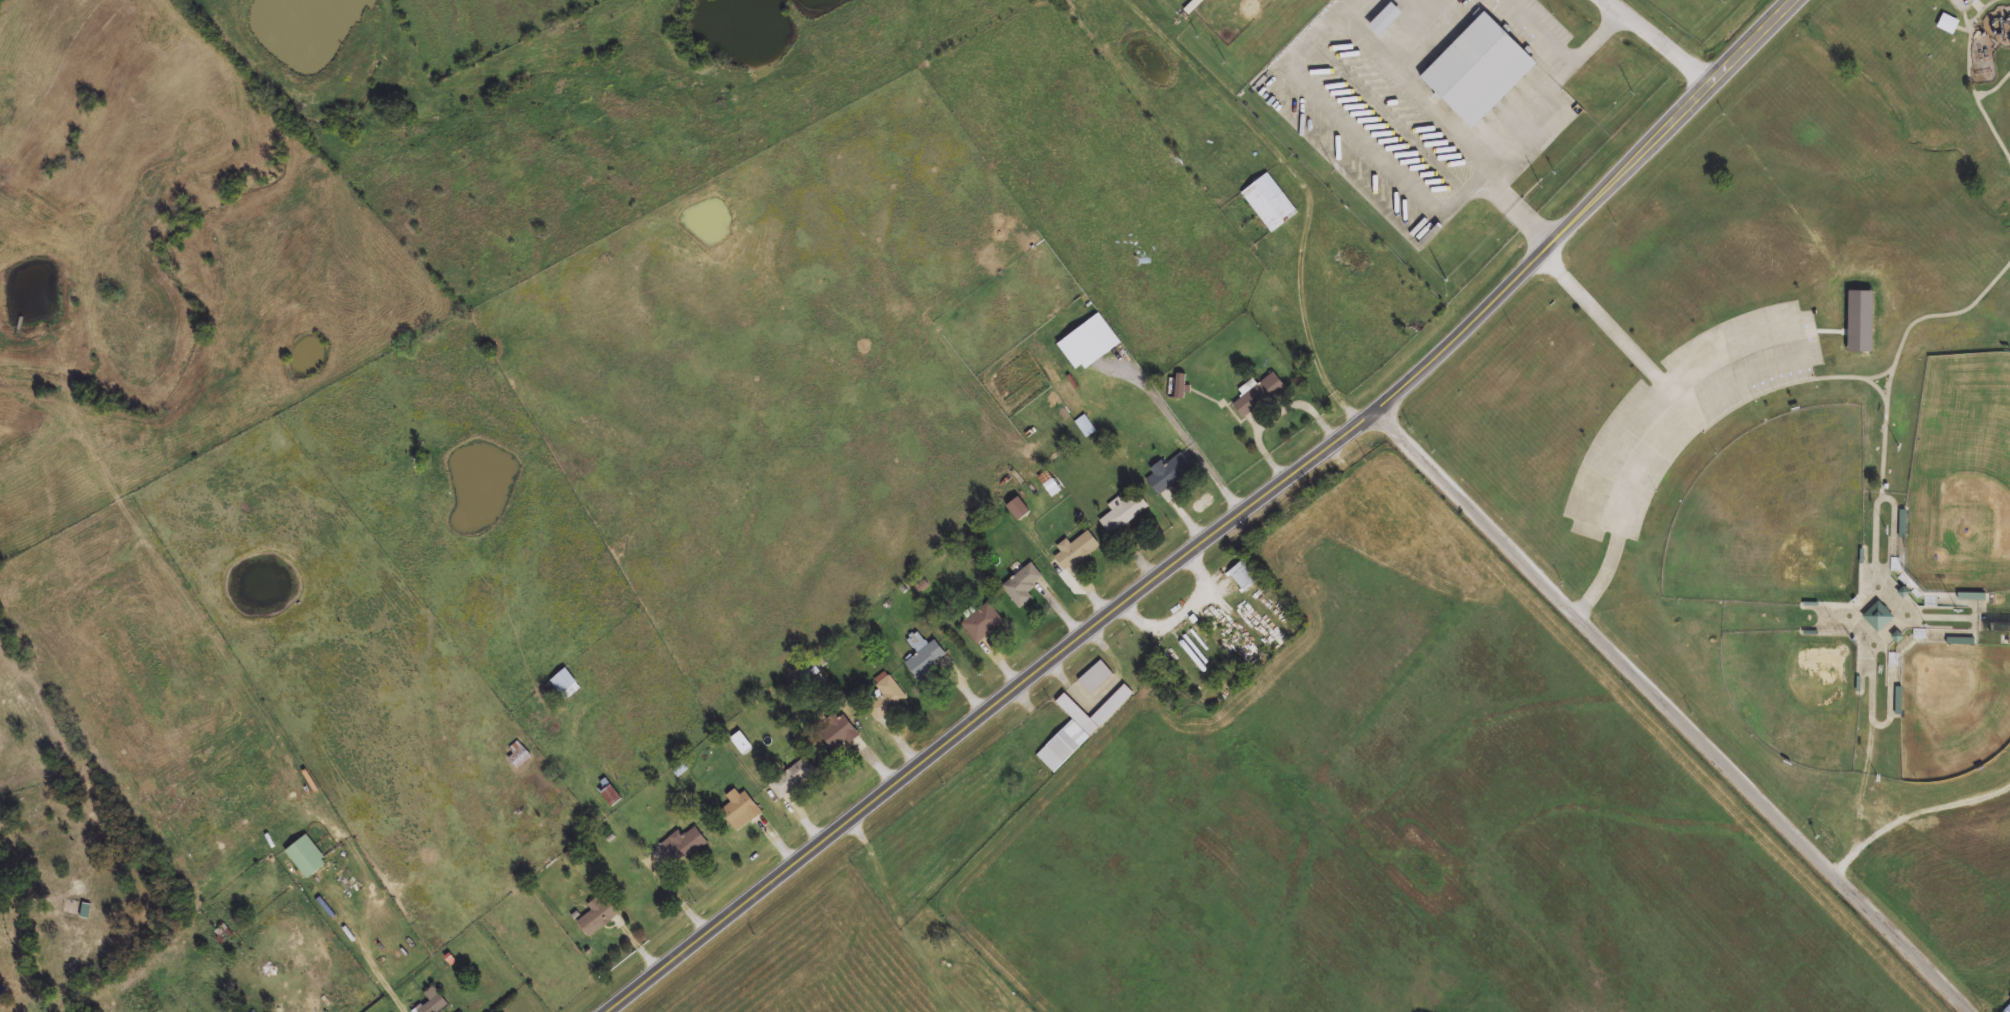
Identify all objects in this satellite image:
building: (1193, 6)
building: (1946, 24)
road: (1658, 41)
building: (1476, 68)
road: (1555, 84)
road: (1451, 120)
road: (1636, 162)
building: (1857, 322)
road: (1309, 327)
building: (1088, 343)
building: (1179, 387)
building: (1257, 396)
road: (1685, 418)
road: (1188, 436)
building: (1168, 475)
building: (1122, 514)
building: (1075, 551)
building: (1243, 577)
building: (1023, 585)
road: (1186, 610)
building: (1878, 617)
building: (929, 661)
road: (1042, 669)
building: (1095, 677)
building: (564, 684)
building: (887, 697)
road: (1677, 711)
building: (1080, 729)
building: (838, 735)
building: (742, 744)
building: (517, 755)
building: (793, 779)
building: (610, 797)
building: (741, 810)
building: (684, 844)
building: (306, 856)
road: (902, 914)
building: (598, 916)
building: (433, 1001)
building: (458, 1011)

